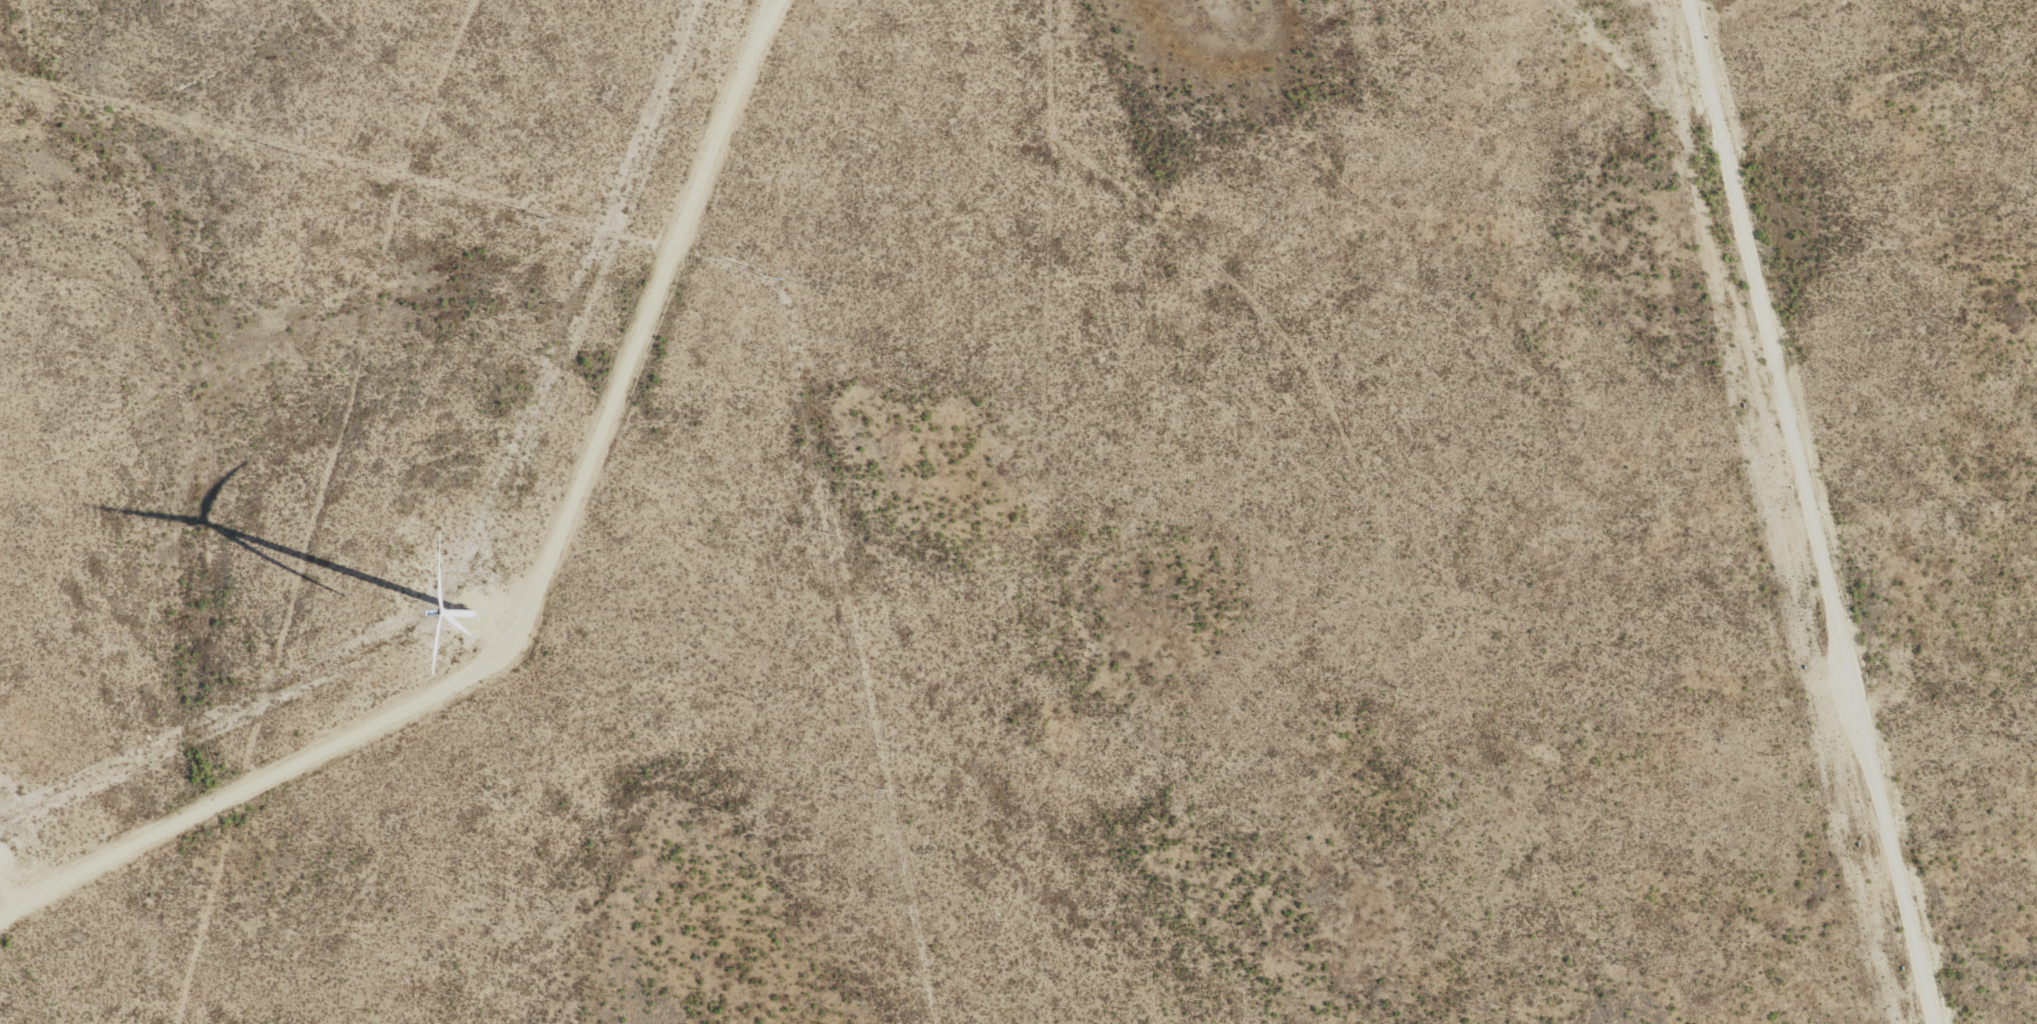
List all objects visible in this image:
power tower: (30, 88)
power tower: (294, 154)
power tower: (780, 280)
power tower: (831, 534)
wind turbine: (454, 606)
power tower: (883, 790)

